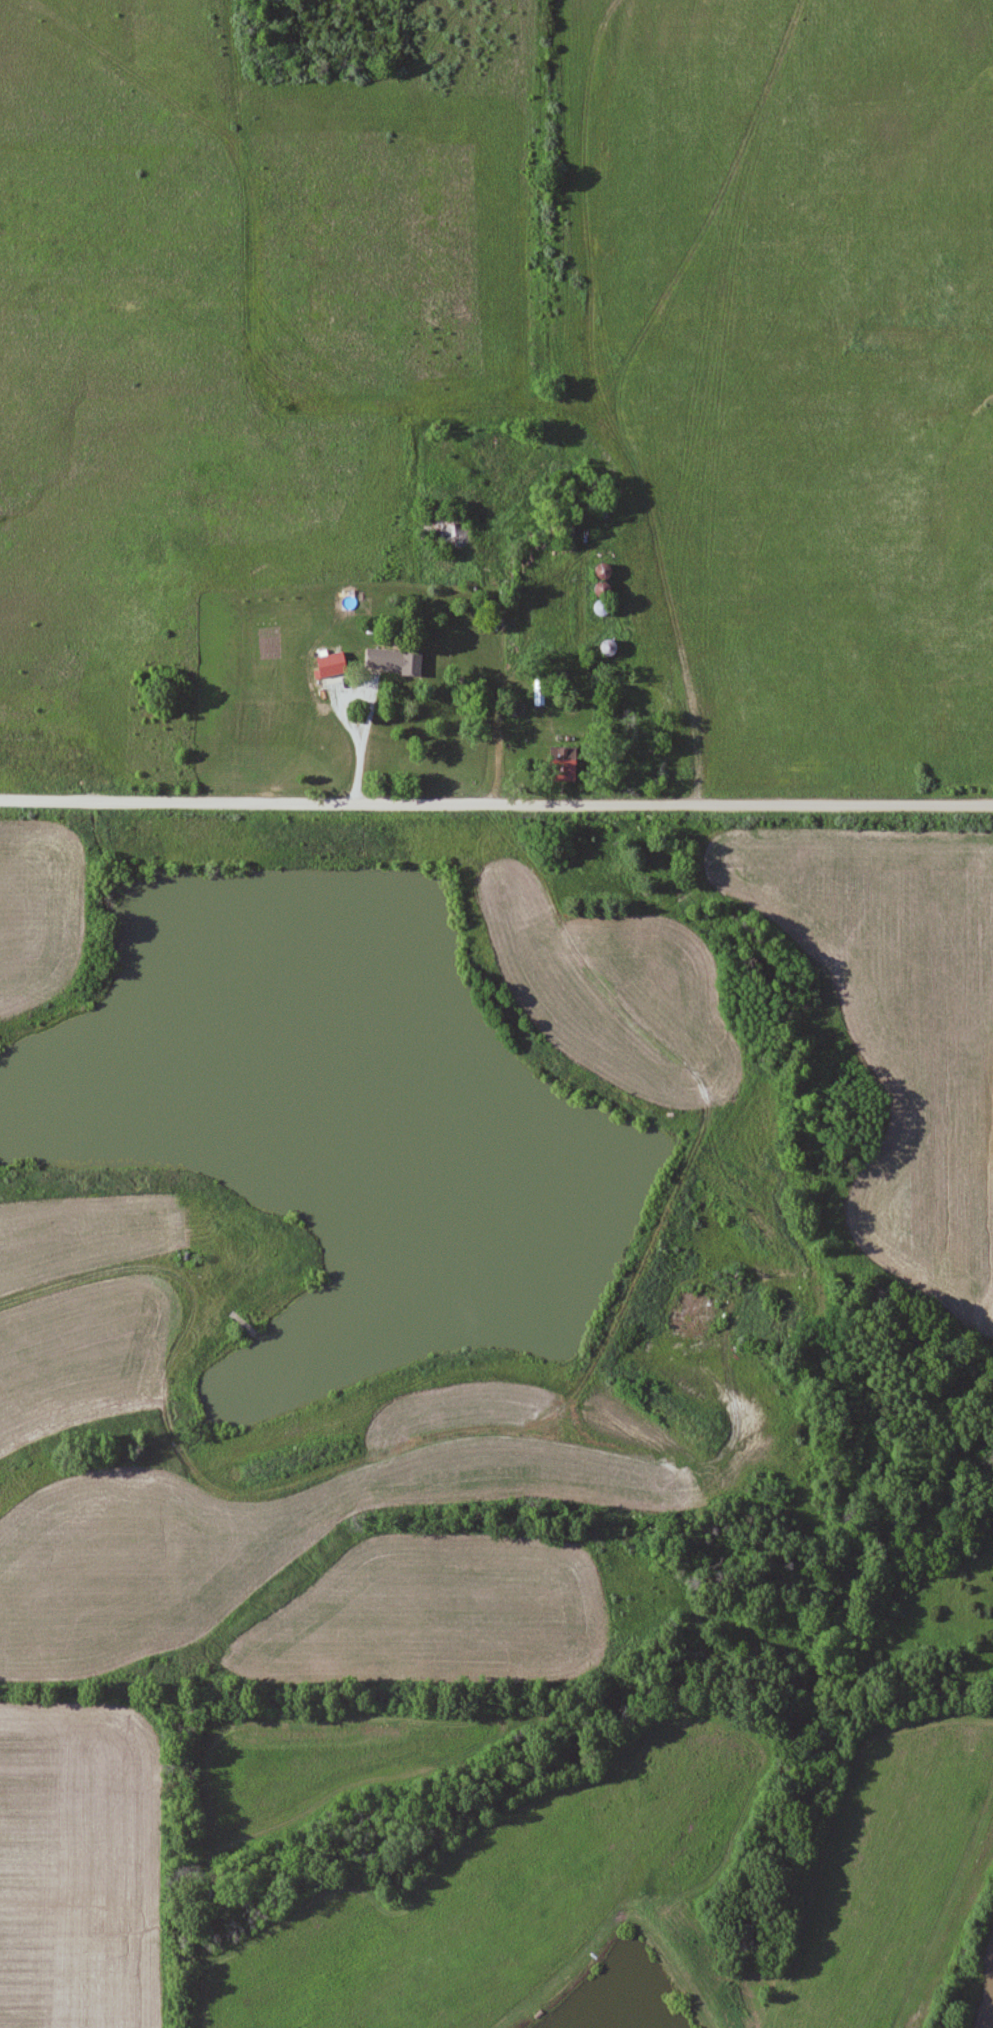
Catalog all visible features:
building: (443, 530)
building: (606, 648)
building: (392, 663)
road: (496, 802)

